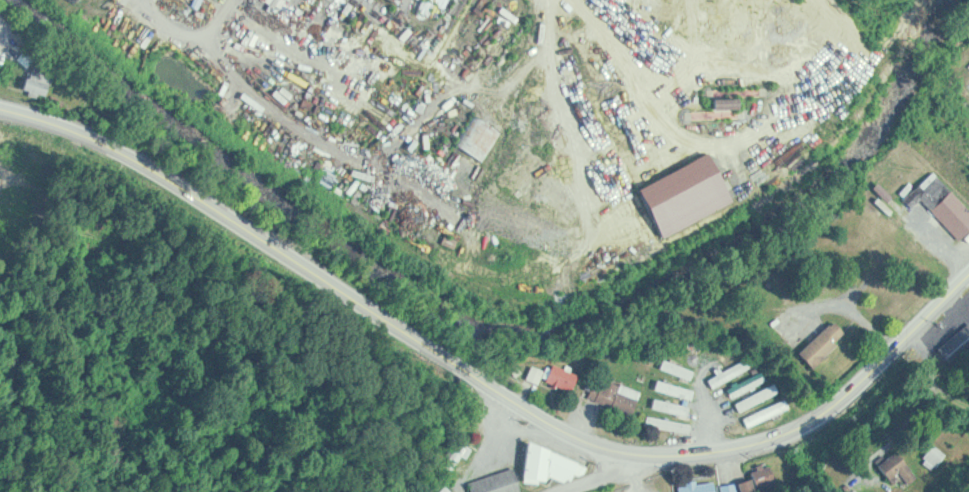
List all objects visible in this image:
building: (78, 0)
building: (399, 2)
building: (41, 86)
building: (480, 137)
building: (943, 203)
river: (499, 337)
building: (826, 343)
building: (557, 377)
road: (486, 382)
building: (617, 395)
road: (930, 396)
road: (55, 452)
building: (459, 455)
building: (551, 465)
road: (600, 472)
building: (498, 482)
building: (748, 485)
building: (699, 487)

